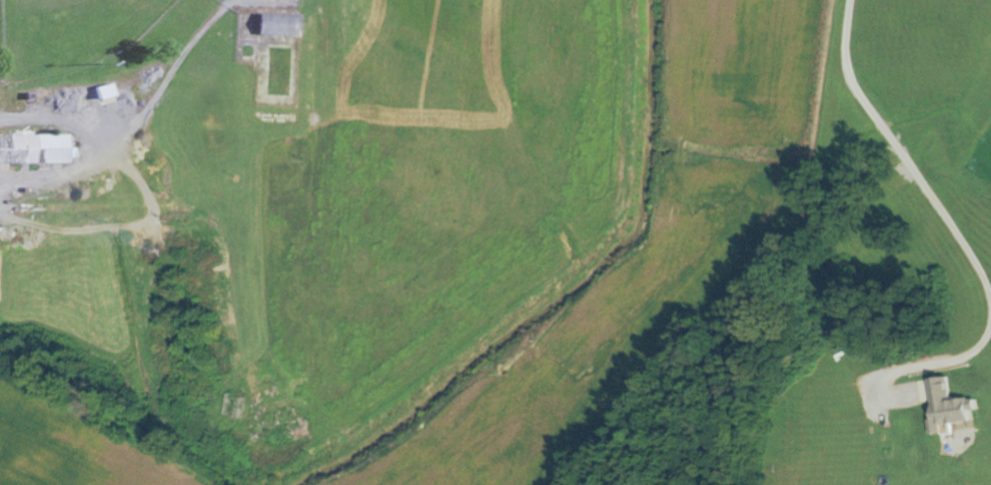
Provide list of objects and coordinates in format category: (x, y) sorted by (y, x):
building: (275, 25)
park: (71, 34)
building: (32, 150)

